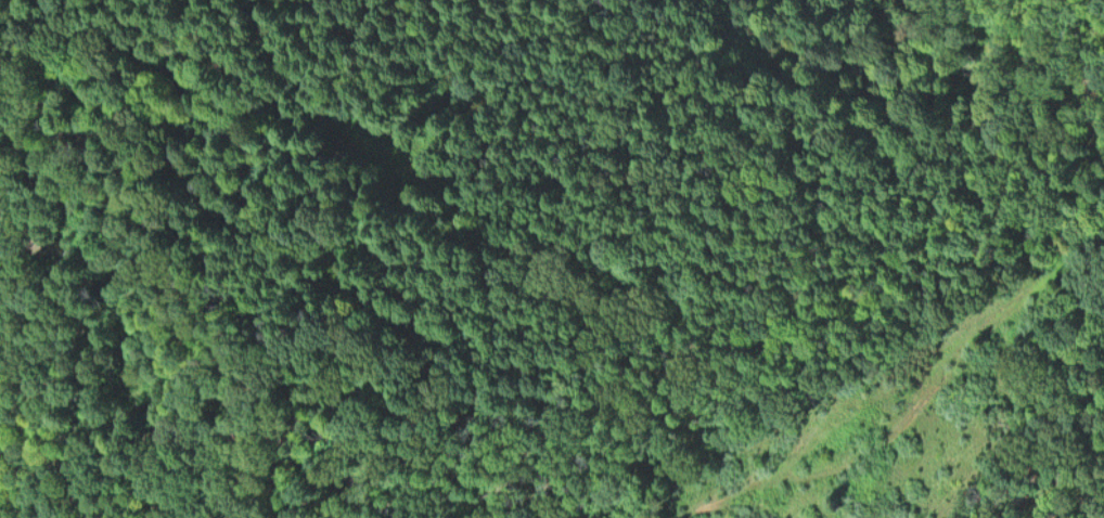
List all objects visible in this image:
road: (2, 235)
road: (910, 407)

